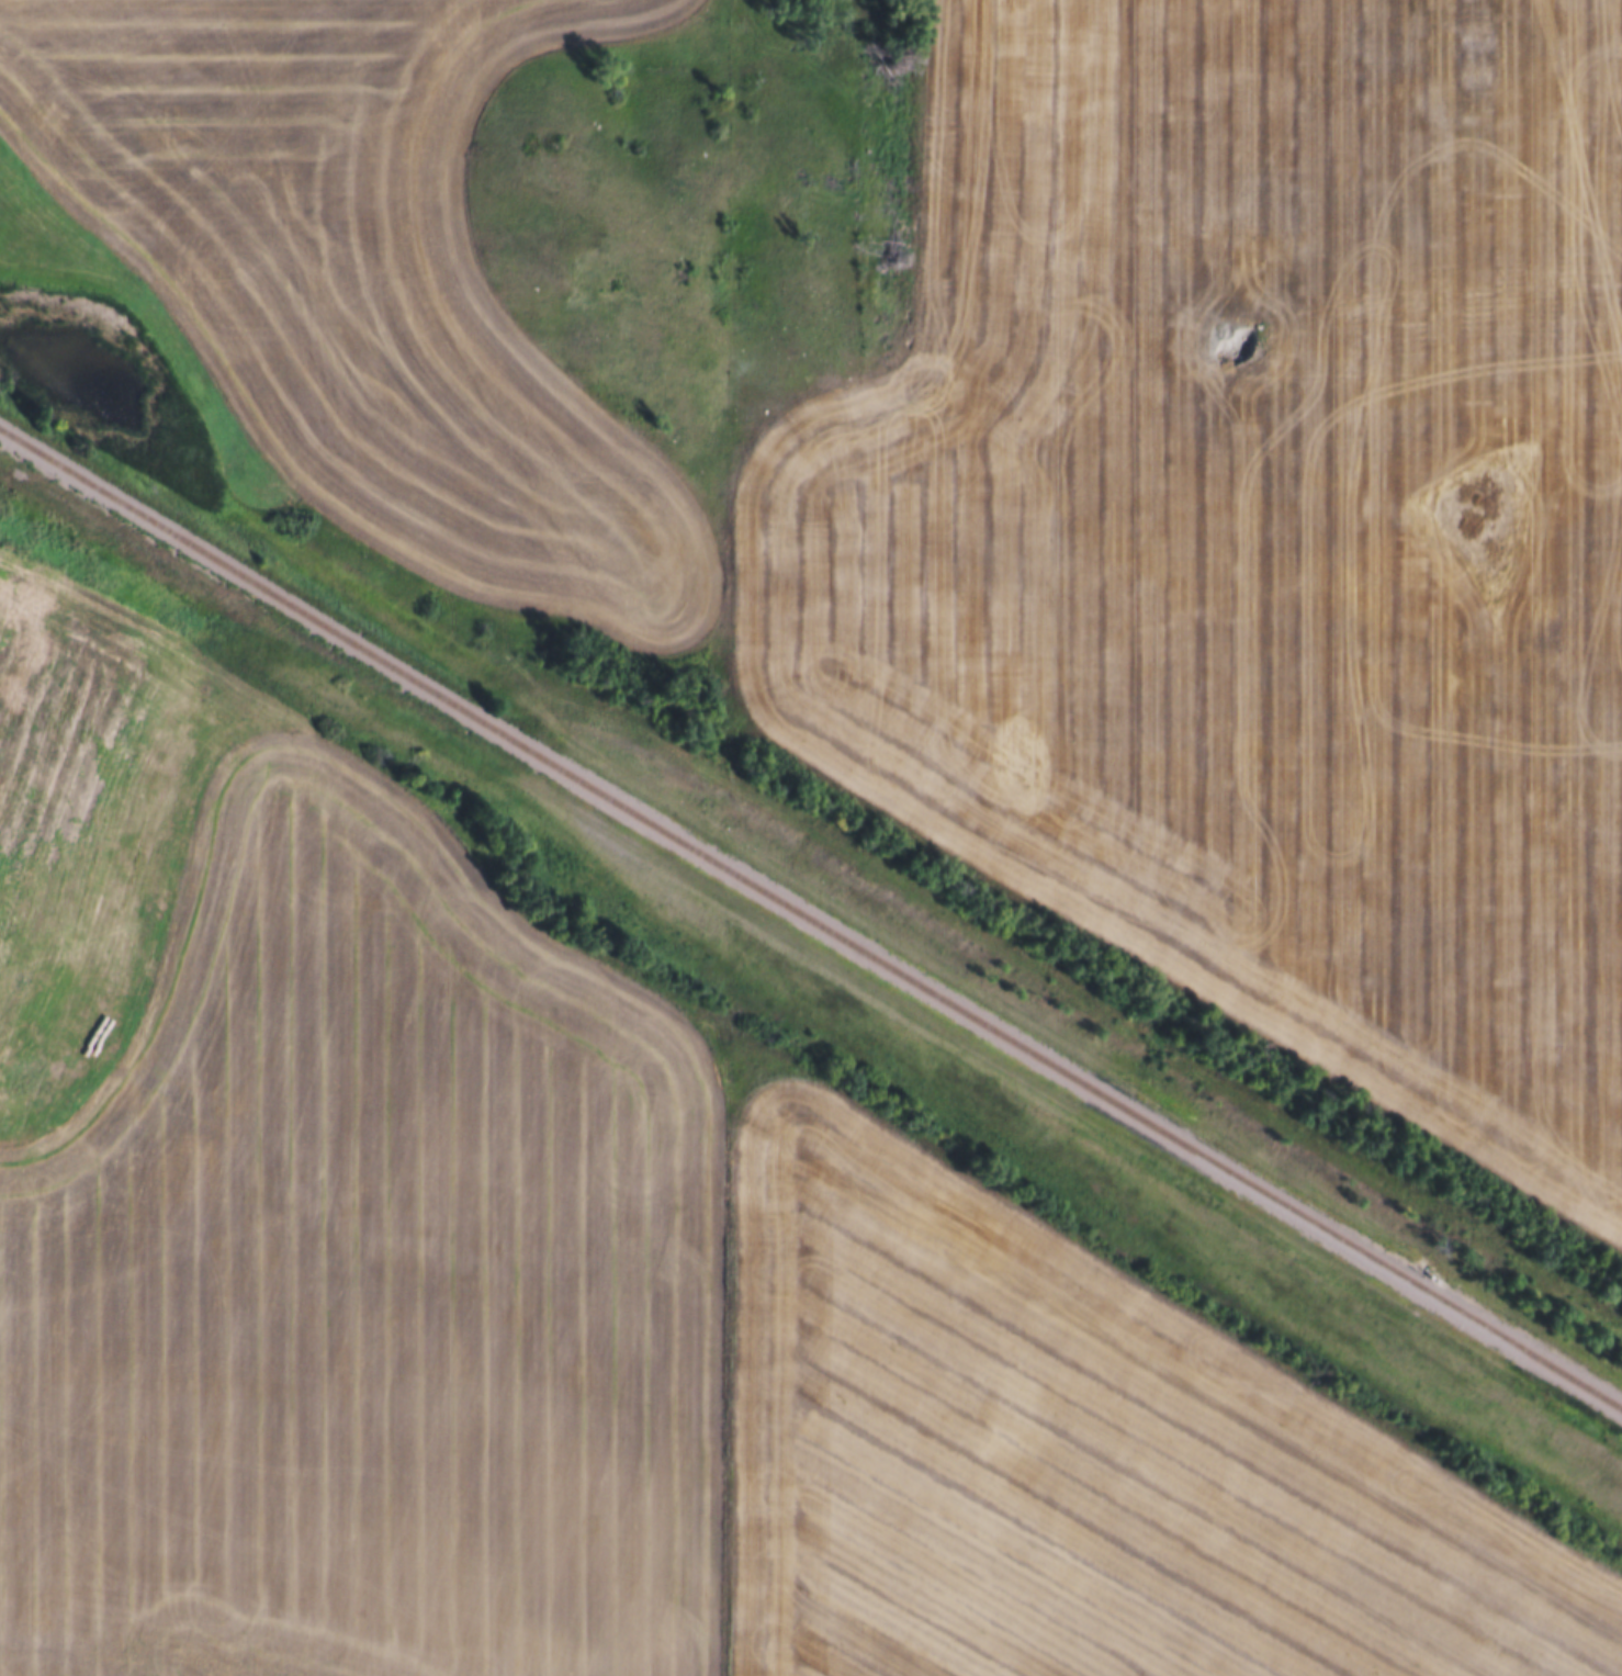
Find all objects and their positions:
railway: (811, 921)

